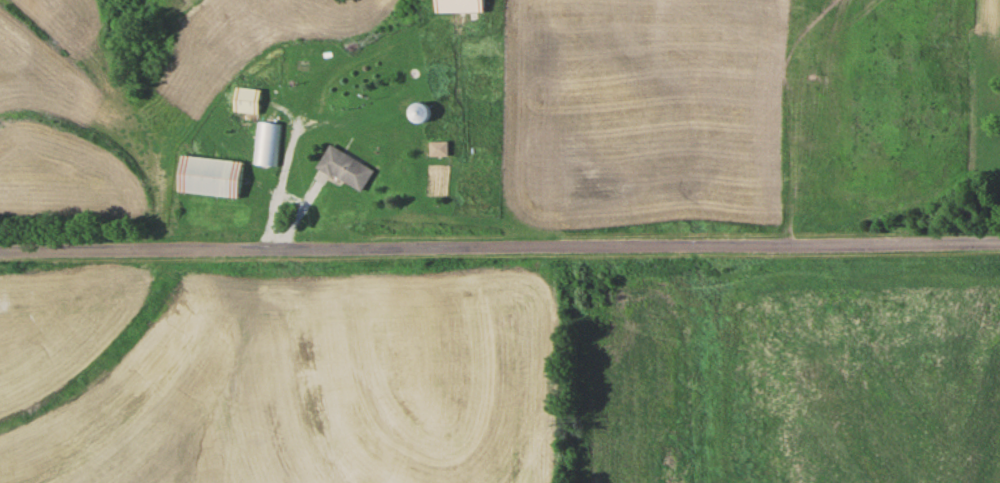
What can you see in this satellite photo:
building: (457, 5)
road: (311, 90)
building: (244, 100)
building: (417, 113)
building: (265, 143)
building: (344, 168)
building: (208, 175)
road: (500, 248)

